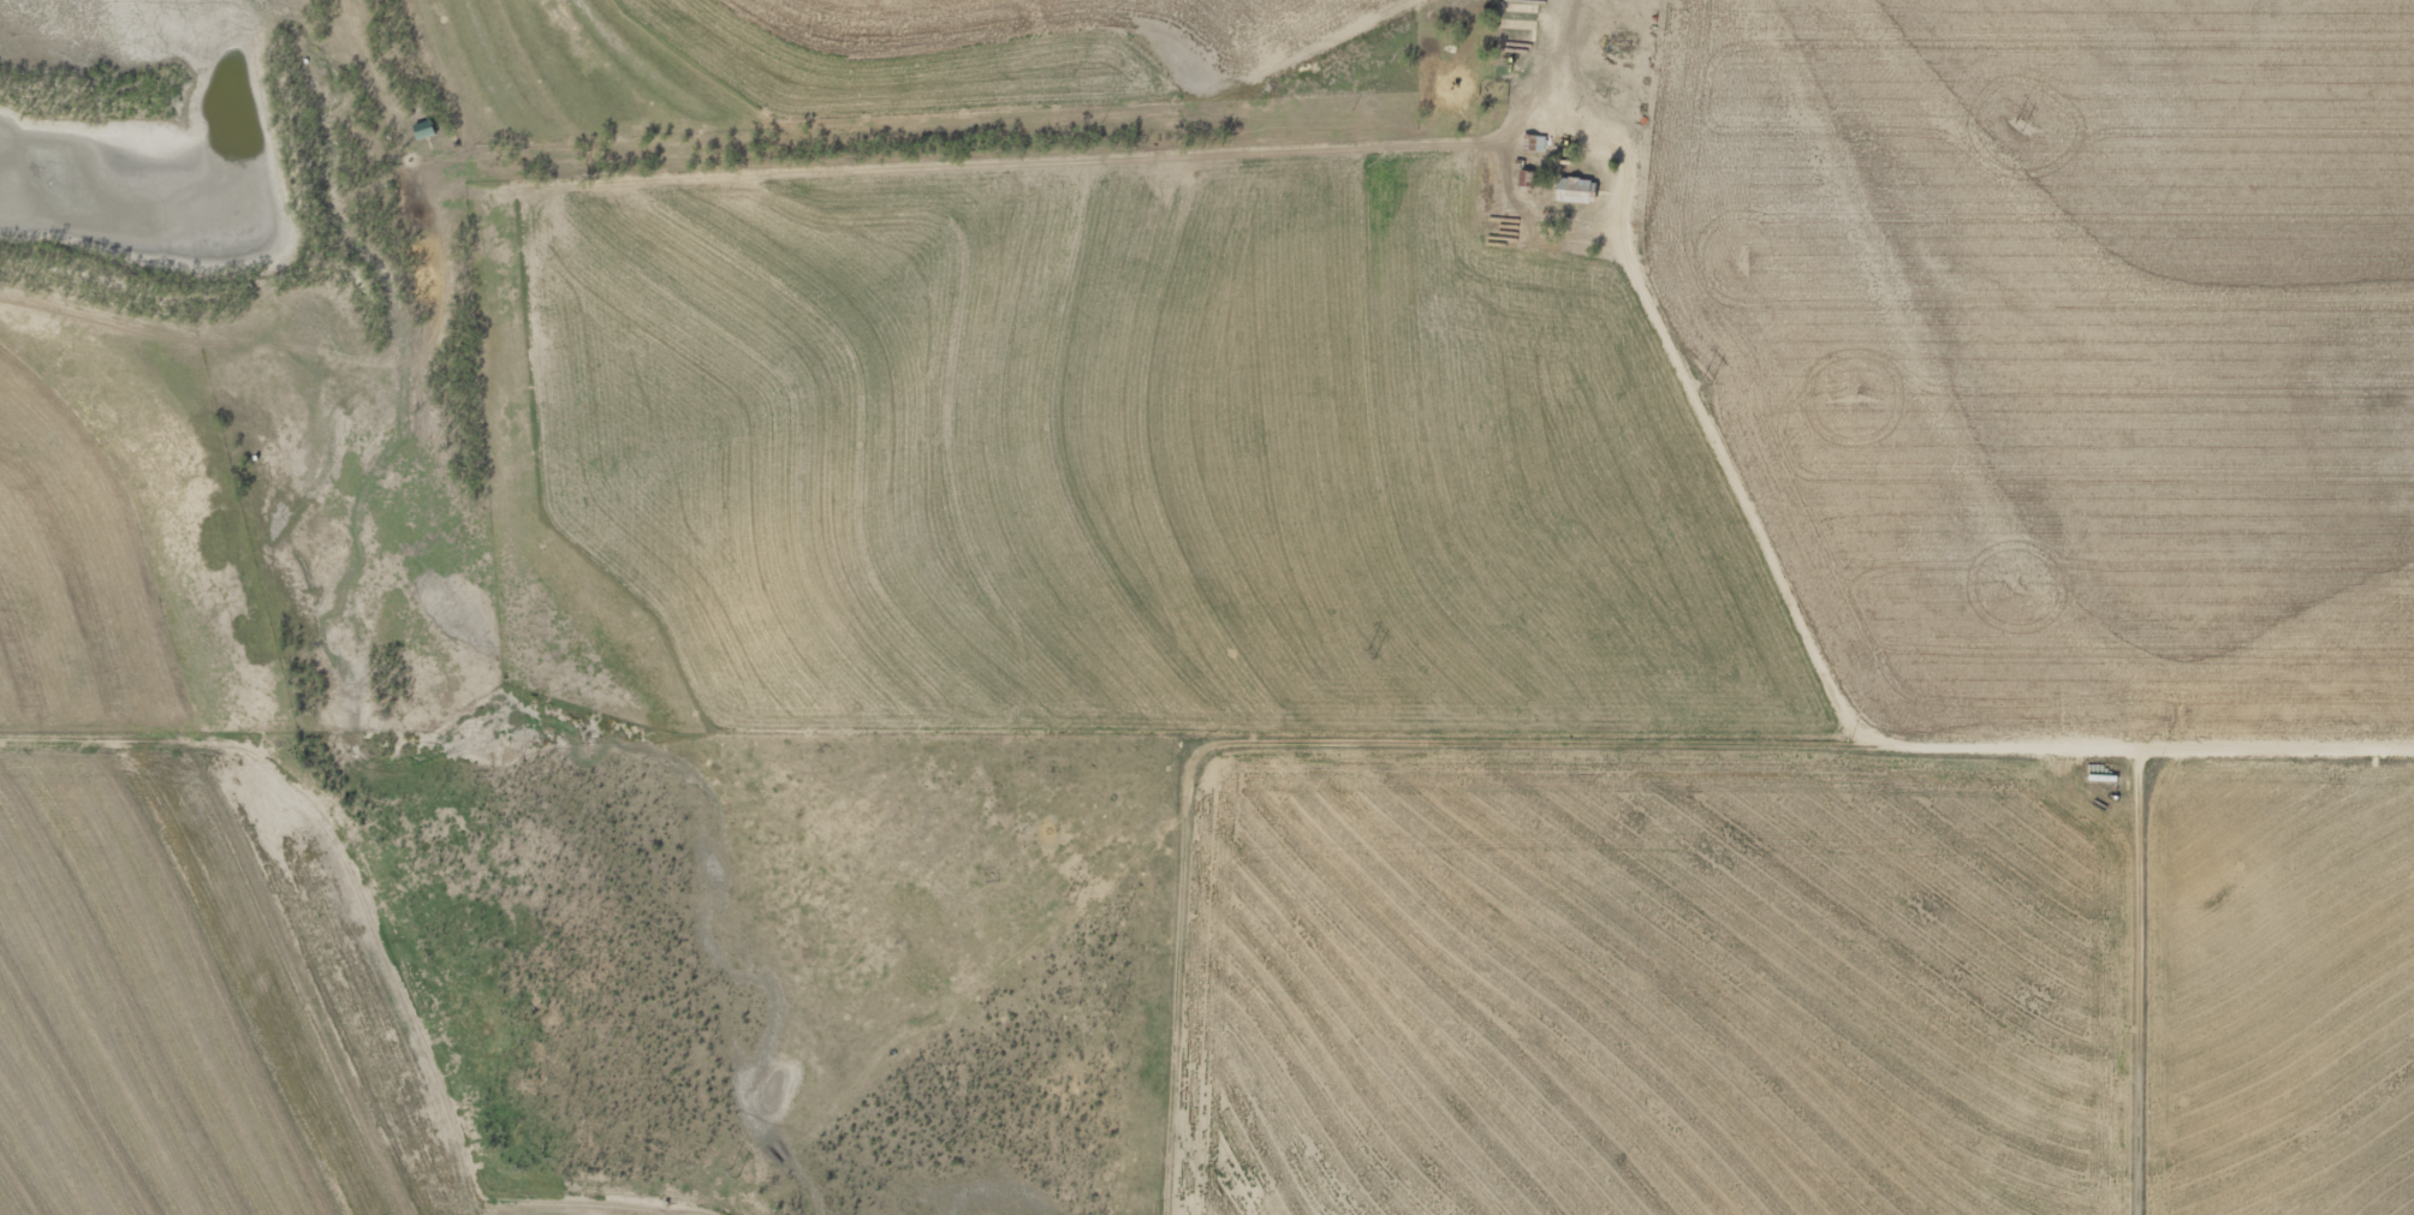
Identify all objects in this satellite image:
power tower: (2032, 133)
power tower: (1724, 381)
power tower: (1375, 662)
road: (2288, 738)
power tower: (1078, 901)
road: (2156, 976)
power tower: (737, 1179)

